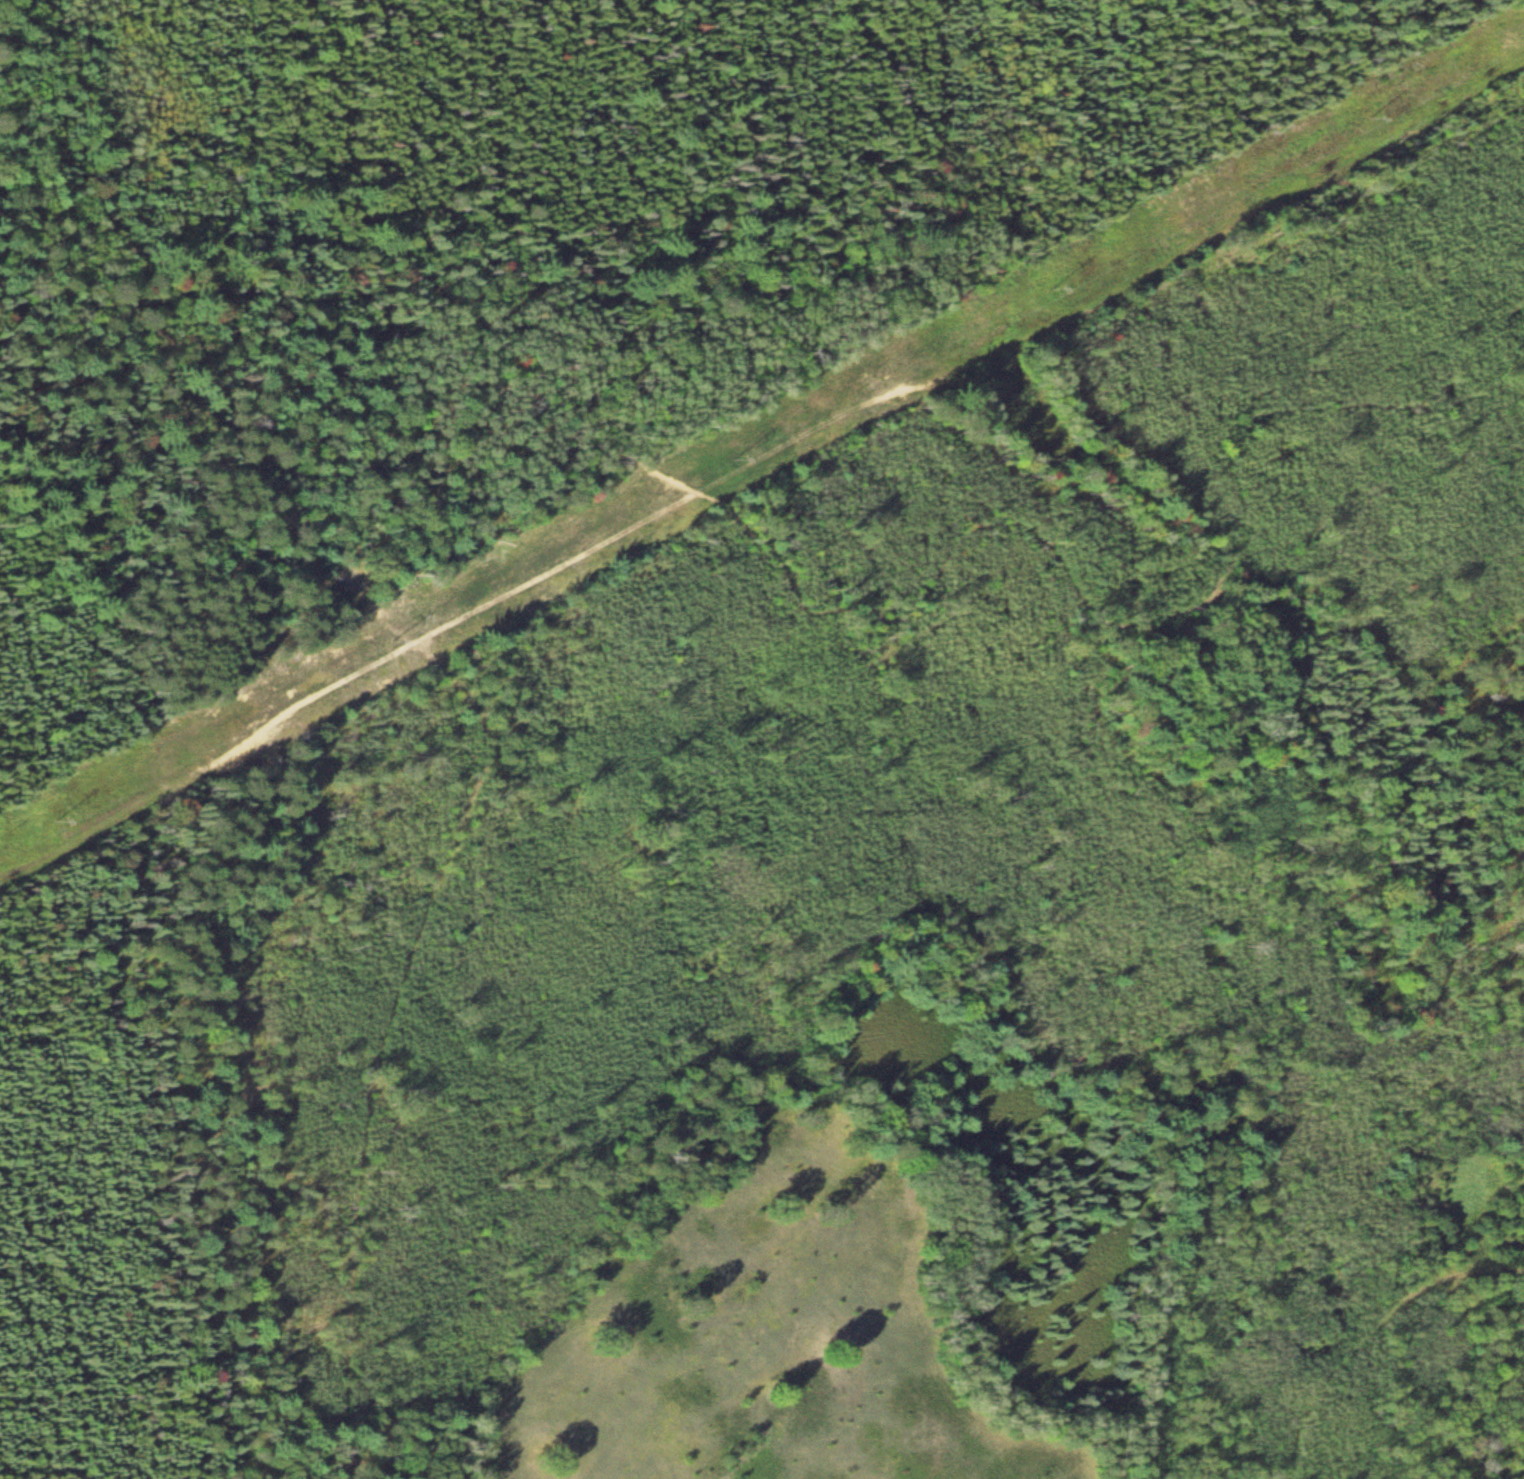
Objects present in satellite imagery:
road: (761, 461)
road: (753, 544)
road: (1268, 1385)

